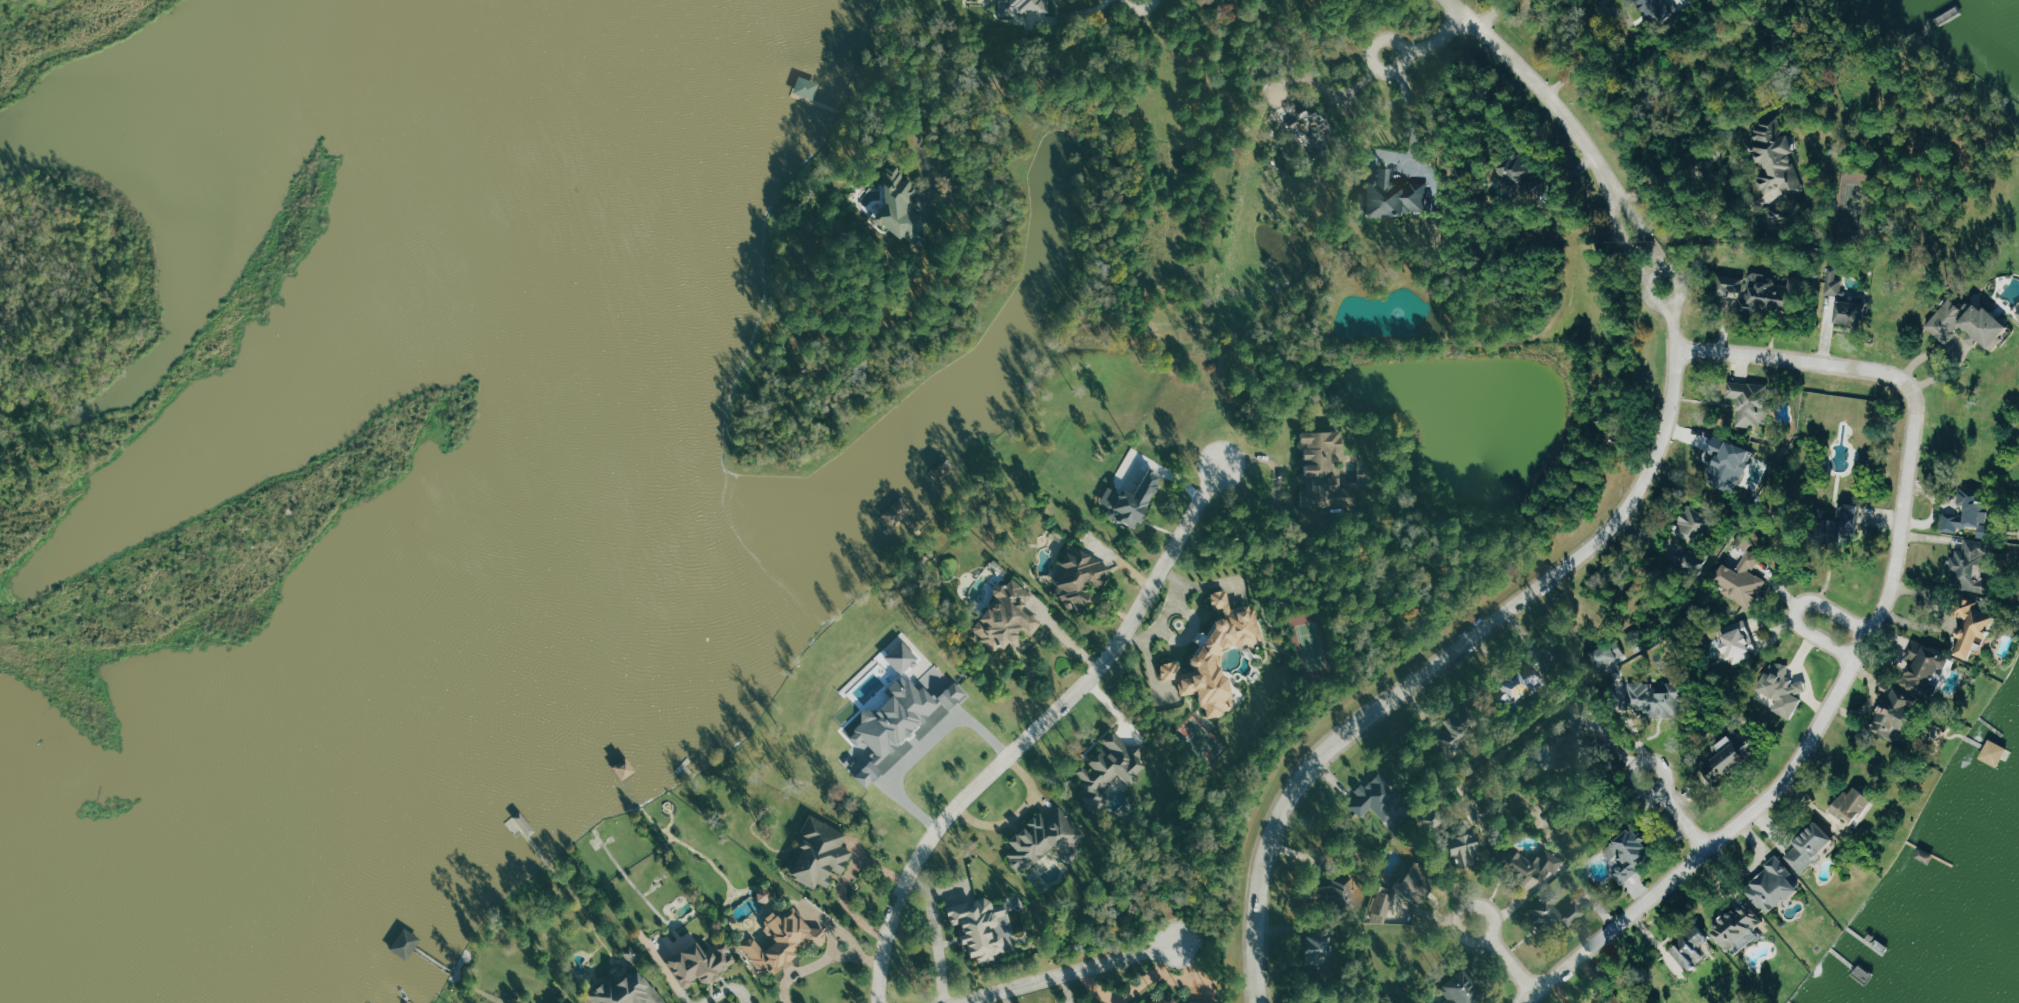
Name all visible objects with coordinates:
road: (1138, 4)
building: (1025, 6)
road: (1490, 14)
road: (1070, 16)
road: (1627, 37)
road: (1436, 42)
road: (1585, 53)
road: (1374, 56)
road: (995, 76)
building: (807, 87)
road: (1330, 91)
road: (1541, 91)
road: (1412, 114)
building: (1313, 131)
road: (1711, 152)
building: (1777, 158)
building: (1519, 174)
building: (1396, 197)
building: (900, 206)
road: (1632, 215)
road: (1616, 224)
road: (1655, 272)
road: (1672, 272)
road: (1646, 283)
building: (1755, 293)
building: (1846, 301)
building: (1969, 324)
road: (1673, 333)
road: (1819, 363)
building: (1752, 402)
building: (1728, 463)
building: (1324, 478)
building: (1131, 501)
building: (898, 513)
building: (1968, 516)
building: (1843, 523)
building: (1695, 526)
building: (1696, 562)
building: (1972, 567)
building: (1079, 578)
building: (1743, 580)
building: (1007, 617)
building: (1979, 633)
road: (1066, 636)
road: (1830, 638)
building: (1609, 655)
building: (1220, 656)
building: (902, 657)
road: (1442, 663)
building: (1925, 666)
building: (1170, 671)
building: (1519, 684)
building: (1783, 689)
building: (1655, 699)
building: (1898, 712)
building: (898, 721)
building: (1584, 721)
building: (1459, 725)
road: (1035, 734)
road: (919, 744)
building: (1995, 753)
road: (1800, 764)
building: (1109, 771)
building: (1376, 798)
building: (1856, 806)
road: (1687, 819)
building: (1042, 839)
building: (1811, 848)
building: (821, 852)
building: (1468, 852)
building: (1629, 856)
building: (1529, 865)
building: (1416, 884)
building: (1775, 887)
building: (1342, 892)
building: (1380, 907)
building: (1551, 915)
building: (984, 928)
building: (1739, 928)
building: (783, 941)
road: (1646, 941)
building: (406, 943)
building: (1318, 948)
building: (1693, 949)
road: (823, 962)
building: (701, 963)
road: (1517, 963)
road: (1070, 973)
road: (670, 978)
road: (726, 989)
building: (1461, 989)
building: (627, 990)
building: (1169, 1000)
building: (1620, 1000)
building: (567, 1002)
building: (1196, 1002)

